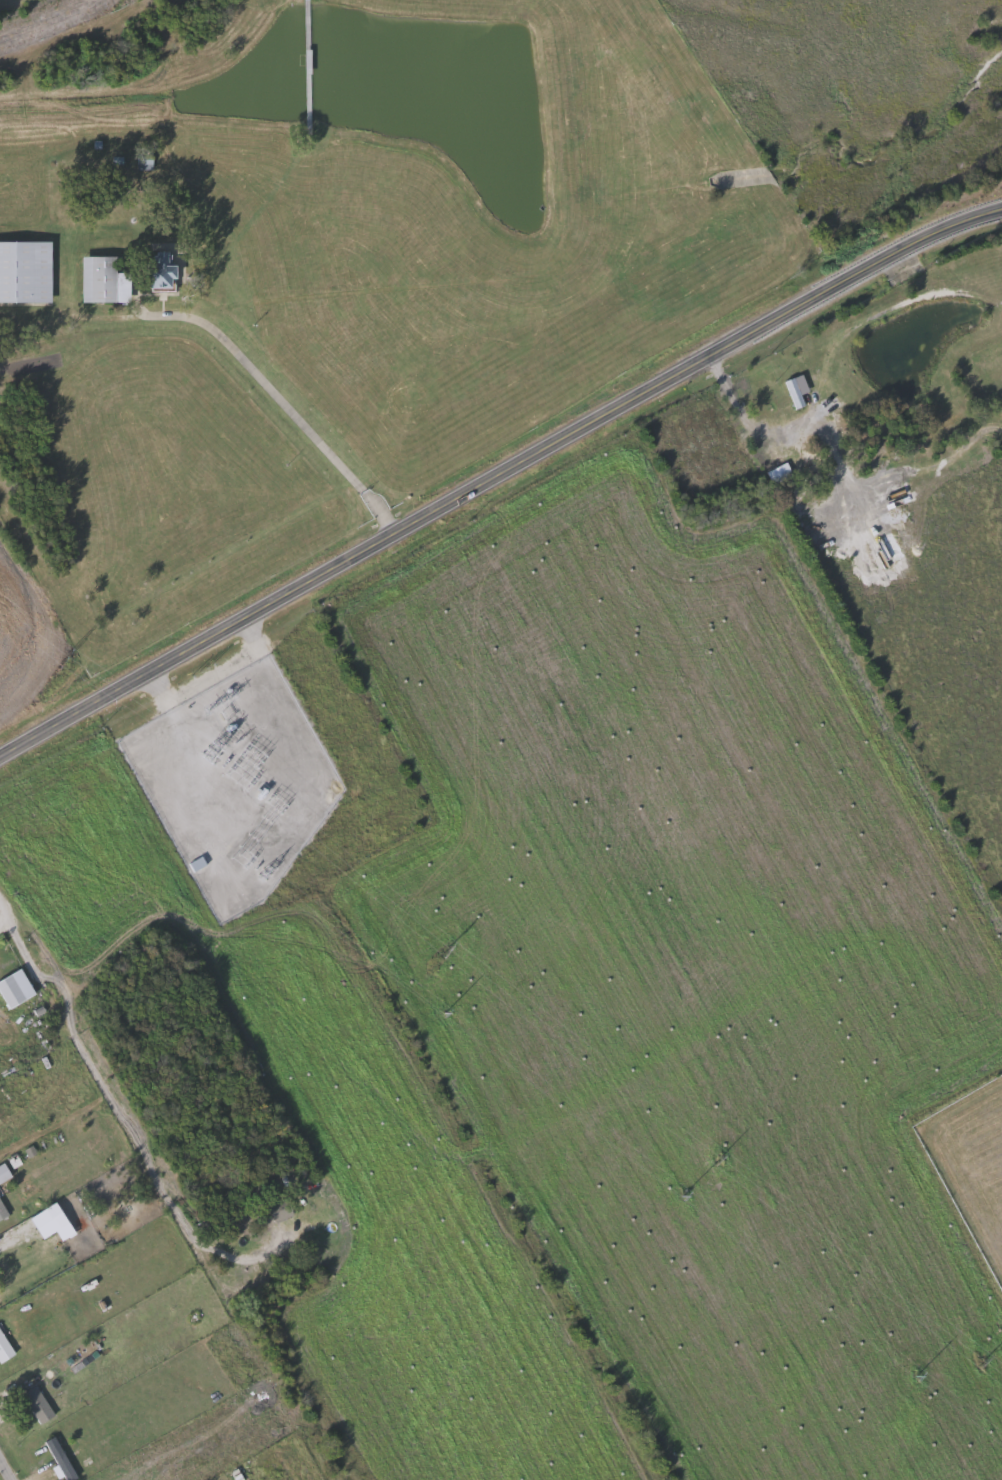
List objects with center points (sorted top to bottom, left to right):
building: (27, 270)
building: (166, 270)
building: (107, 279)
road: (278, 394)
road: (737, 402)
building: (779, 473)
road: (498, 474)
power tower: (62, 662)
power substation: (235, 782)
building: (199, 862)
road: (2, 913)
building: (6, 967)
building: (17, 987)
road: (122, 1113)
building: (285, 1208)
building: (3, 1210)
road: (1, 1247)
building: (39, 1404)
building: (62, 1457)
road: (5, 1469)

